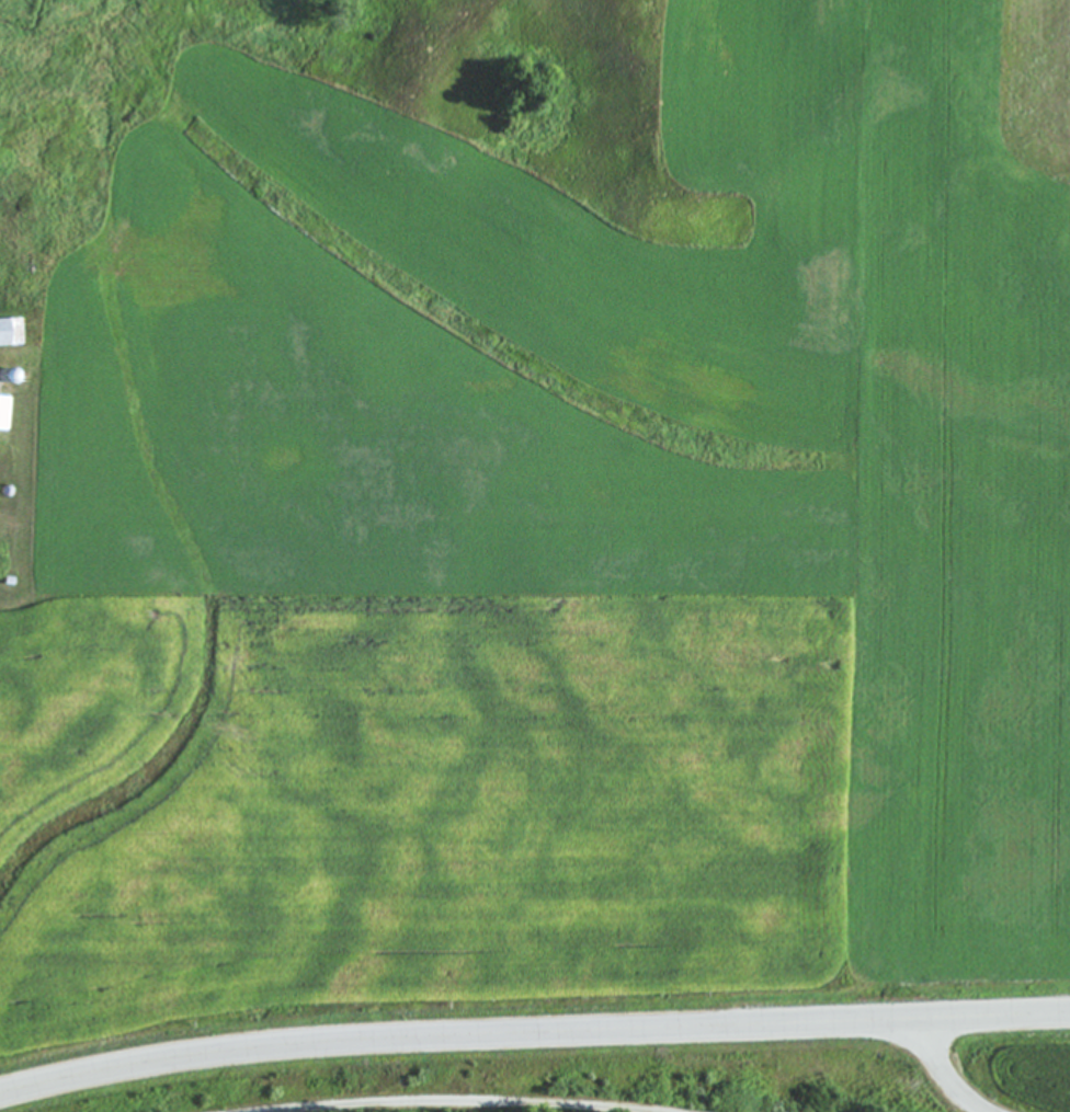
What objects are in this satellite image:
building: (9, 333)
building: (2, 413)
road: (532, 1034)
road: (948, 1074)
road: (460, 1100)

